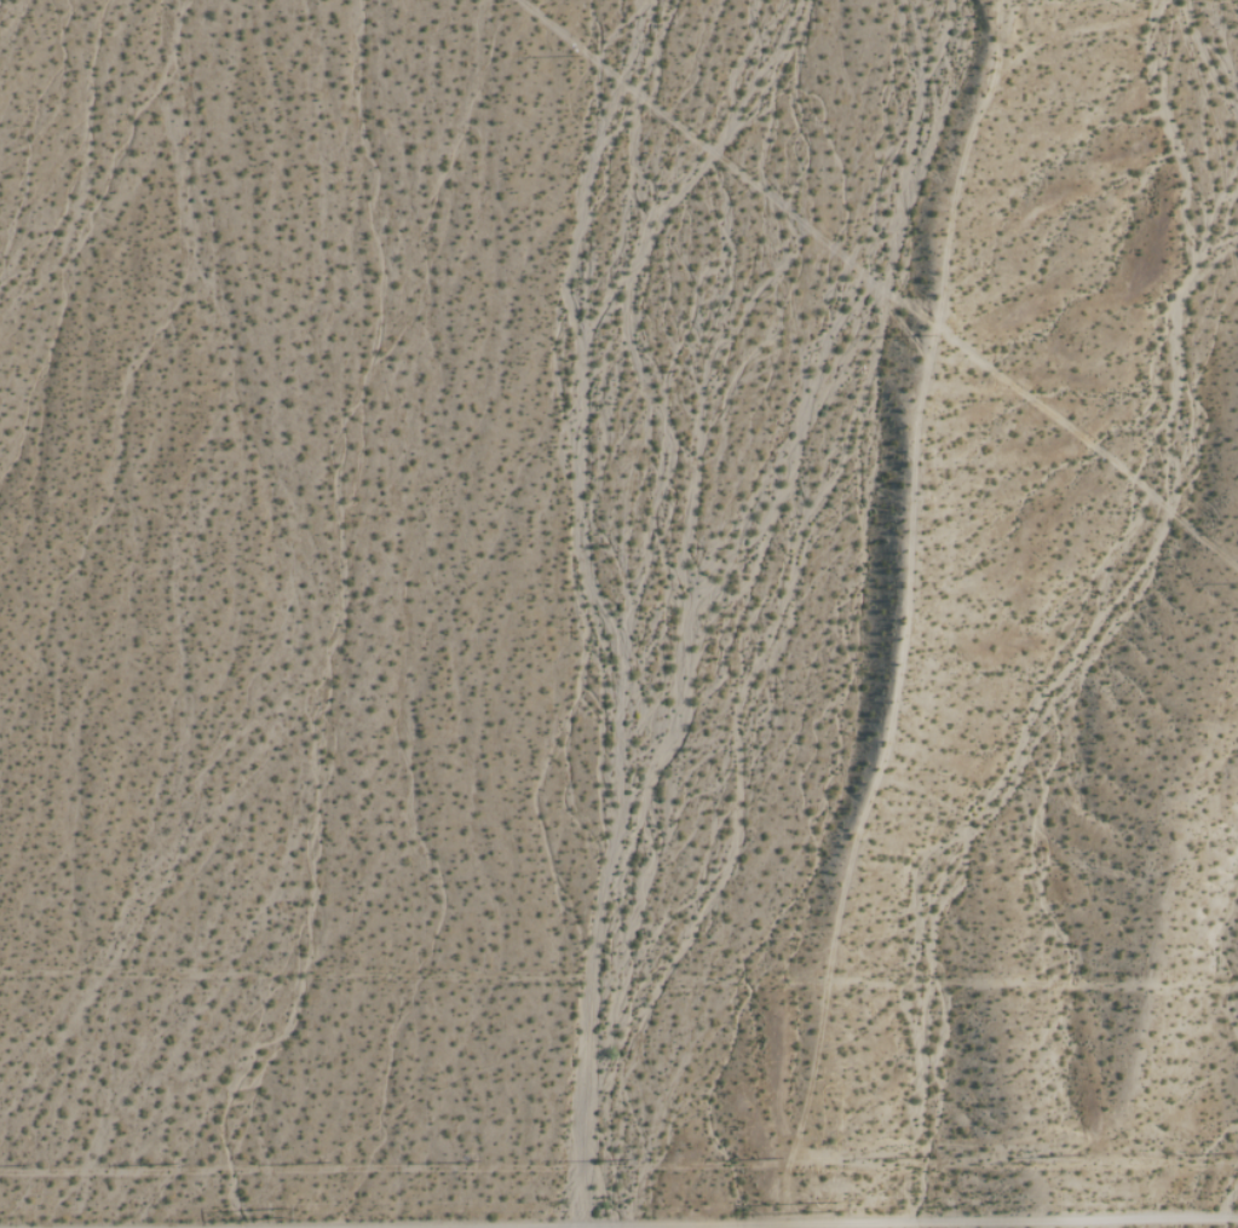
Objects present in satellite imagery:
power tower: (833, 1205)
power tower: (278, 1210)
road: (752, 1221)

